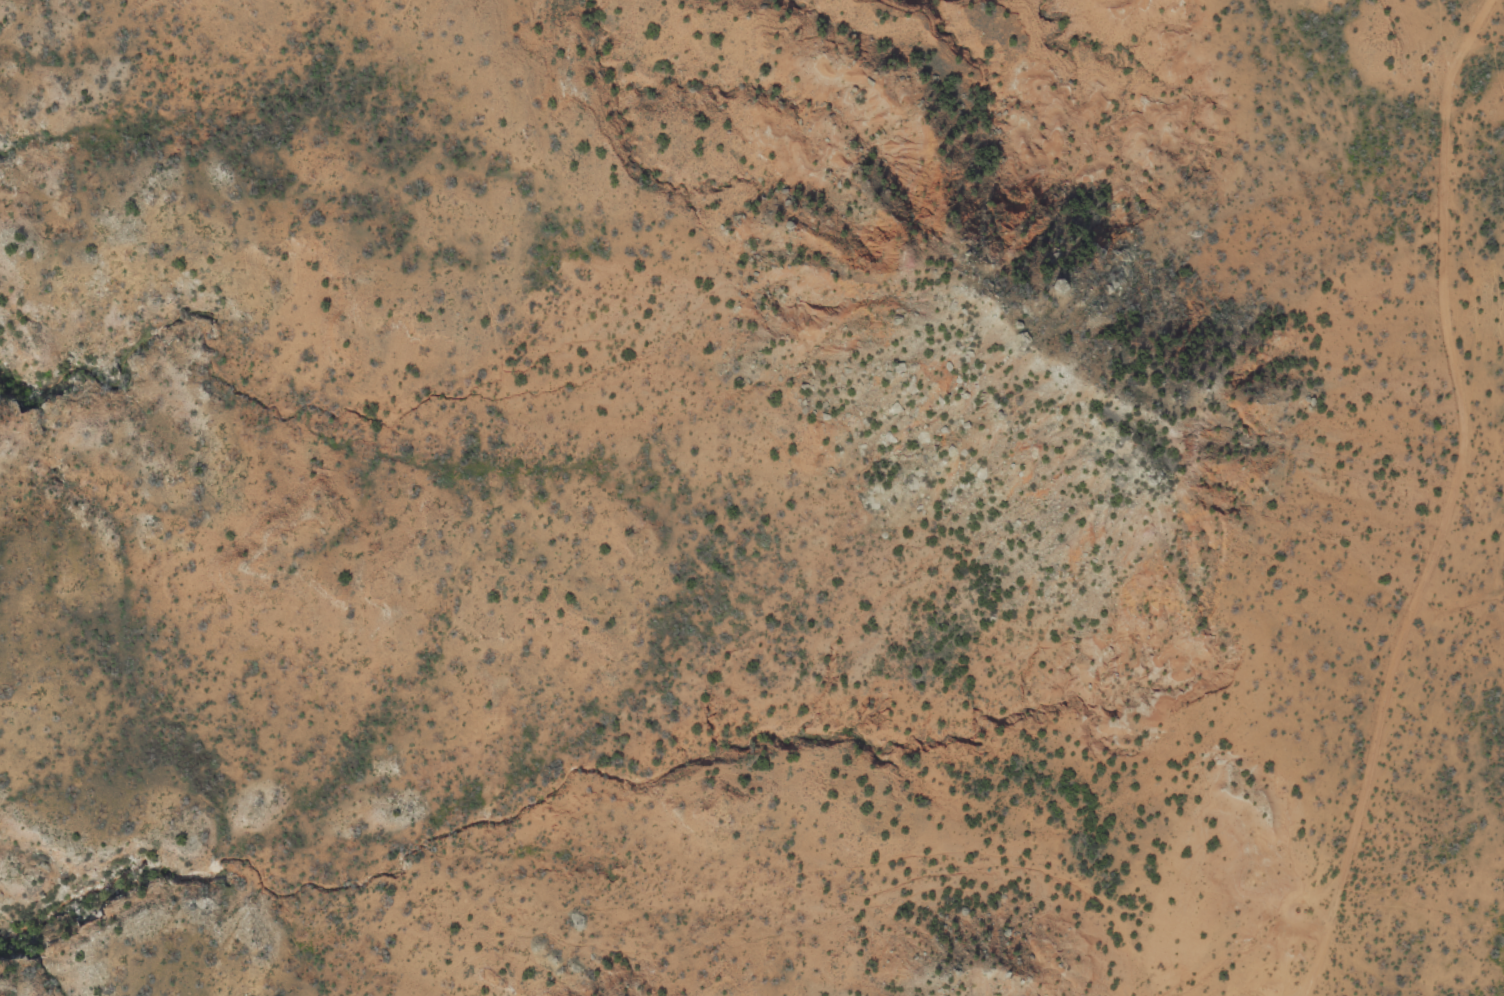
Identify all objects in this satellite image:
road: (1383, 492)

